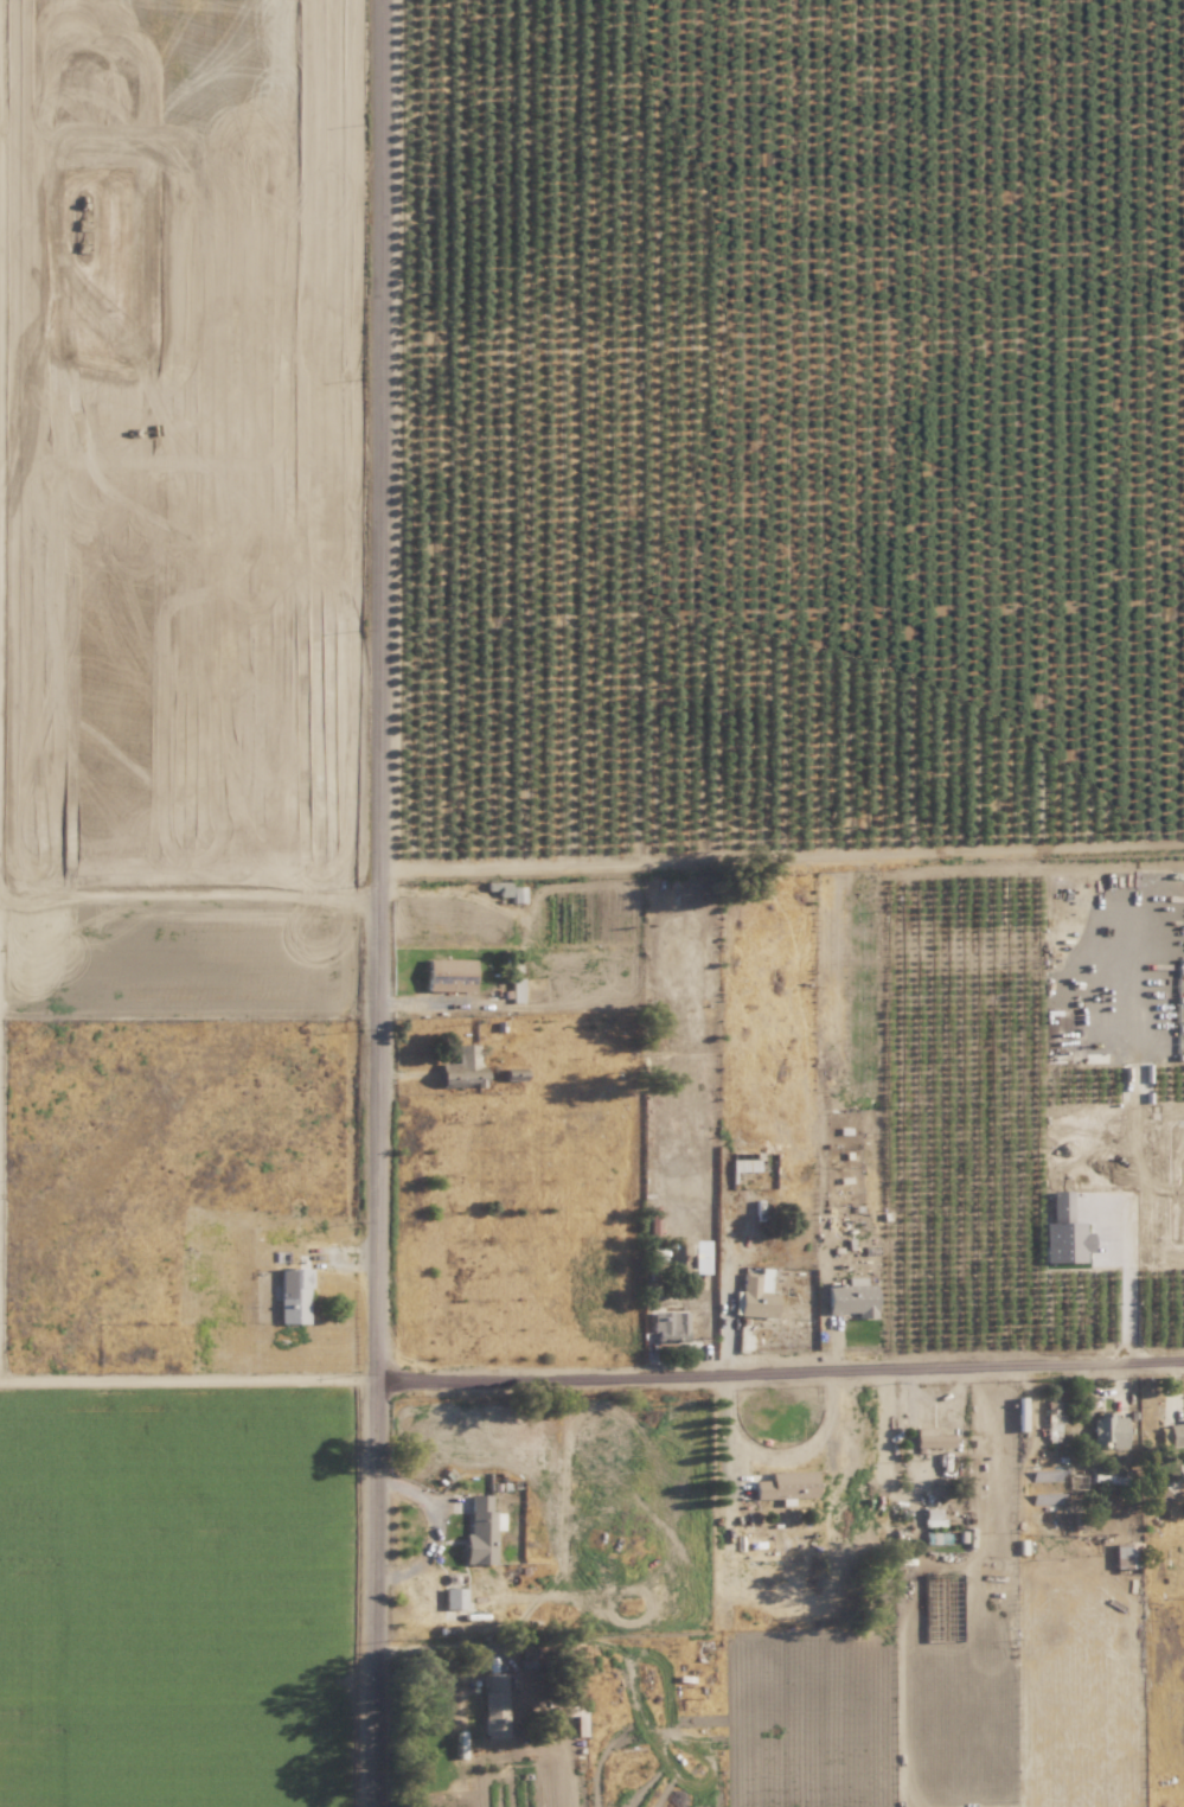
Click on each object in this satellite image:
road: (782, 848)
road: (379, 902)
building: (449, 975)
building: (463, 1067)
road: (1134, 1188)
building: (1060, 1203)
building: (1065, 1243)
building: (759, 1295)
building: (294, 1296)
building: (852, 1297)
road: (781, 1373)
building: (1054, 1422)
building: (1108, 1431)
road: (728, 1434)
building: (1176, 1434)
building: (930, 1438)
road: (807, 1454)
building: (787, 1486)
building: (932, 1517)
road: (430, 1528)
building: (482, 1531)
crop: (169, 1595)
building: (494, 1686)

